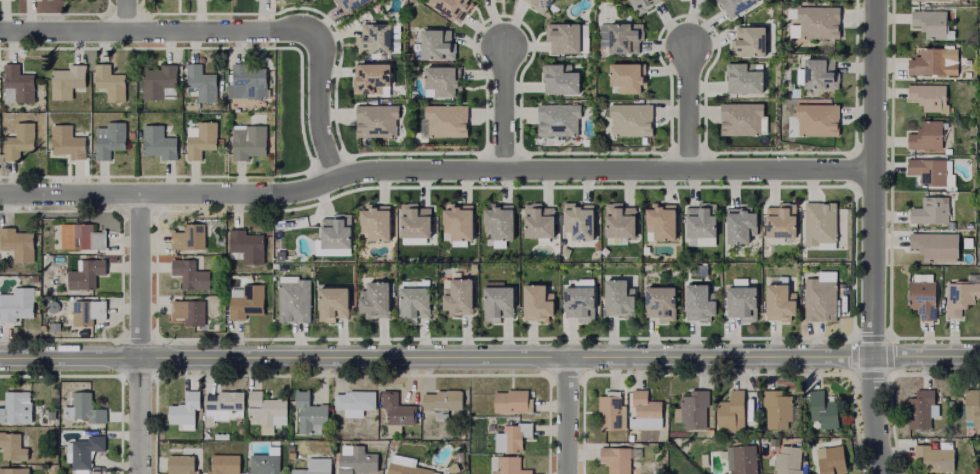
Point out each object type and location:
building: (499, 0)
building: (930, 0)
building: (640, 3)
building: (349, 5)
building: (536, 5)
building: (735, 6)
building: (453, 7)
road: (124, 16)
building: (817, 22)
building: (934, 24)
road: (235, 33)
building: (565, 40)
building: (622, 40)
building: (749, 41)
building: (433, 46)
building: (372, 47)
building: (932, 60)
building: (817, 76)
building: (742, 79)
building: (624, 80)
building: (159, 81)
building: (250, 81)
building: (68, 82)
building: (561, 82)
building: (111, 83)
building: (202, 83)
building: (368, 83)
building: (18, 85)
building: (439, 85)
building: (933, 94)
road: (500, 106)
road: (688, 108)
building: (815, 118)
building: (558, 119)
building: (628, 119)
building: (741, 119)
building: (443, 125)
building: (372, 127)
building: (928, 133)
building: (111, 140)
building: (203, 141)
building: (20, 142)
building: (68, 143)
building: (160, 143)
building: (251, 143)
building: (945, 151)
building: (931, 168)
road: (433, 171)
building: (932, 207)
building: (457, 219)
building: (662, 219)
building: (499, 220)
building: (577, 221)
building: (701, 221)
building: (780, 221)
building: (374, 222)
building: (538, 222)
building: (620, 222)
building: (740, 223)
building: (414, 224)
building: (817, 229)
building: (334, 234)
road: (868, 237)
building: (86, 238)
building: (190, 239)
building: (412, 242)
building: (699, 242)
building: (931, 243)
building: (18, 246)
building: (248, 248)
building: (88, 275)
building: (192, 277)
building: (963, 292)
building: (455, 295)
building: (615, 296)
building: (926, 296)
building: (292, 297)
building: (372, 297)
building: (330, 298)
building: (577, 299)
building: (412, 300)
building: (534, 300)
building: (699, 300)
building: (743, 300)
building: (495, 301)
building: (780, 301)
building: (661, 302)
building: (248, 303)
building: (19, 306)
building: (818, 307)
building: (190, 313)
building: (88, 314)
road: (140, 334)
road: (490, 362)
building: (441, 398)
building: (510, 398)
building: (353, 399)
building: (222, 400)
building: (14, 404)
building: (264, 405)
building: (776, 405)
building: (920, 406)
building: (972, 406)
building: (83, 407)
building: (646, 407)
building: (692, 407)
building: (822, 407)
building: (183, 408)
building: (395, 408)
building: (609, 408)
building: (731, 410)
building: (308, 411)
building: (67, 413)
road: (568, 418)
building: (504, 433)
building: (11, 443)
building: (83, 448)
building: (931, 455)
building: (618, 457)
building: (355, 458)
building: (741, 458)
building: (785, 459)
building: (830, 459)
building: (264, 461)
building: (180, 462)
building: (222, 462)
building: (313, 465)
building: (509, 465)
building: (406, 468)
building: (13, 470)

